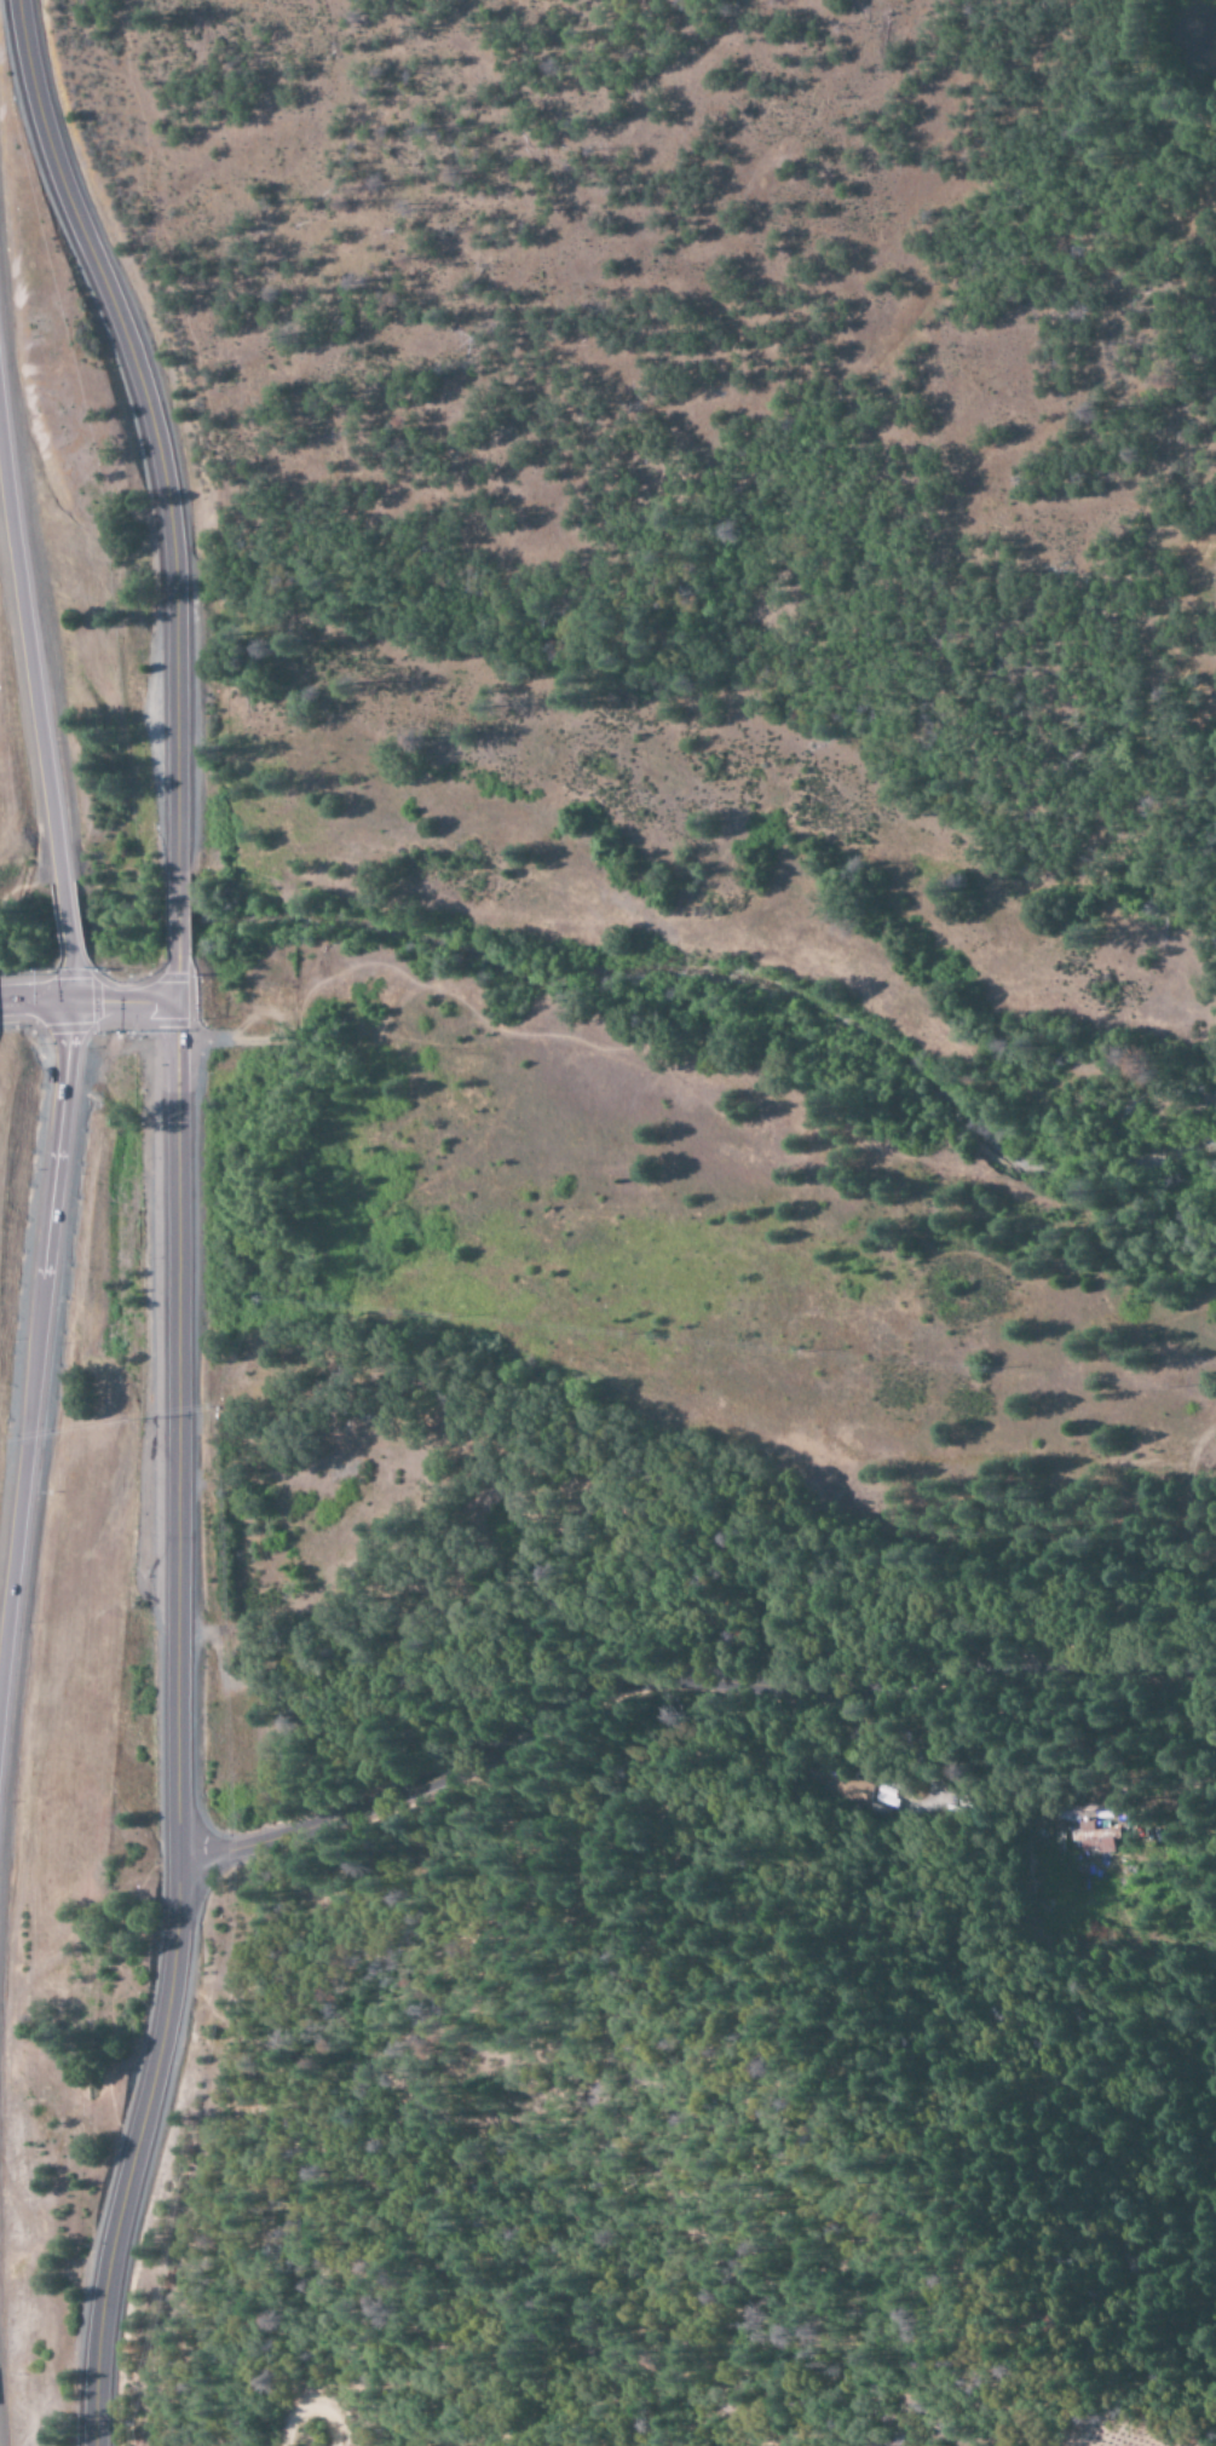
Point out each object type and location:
road: (162, 487)
road: (34, 640)
road: (88, 996)
road: (34, 1462)
road: (684, 1676)
road: (188, 1726)
building: (1083, 1828)

